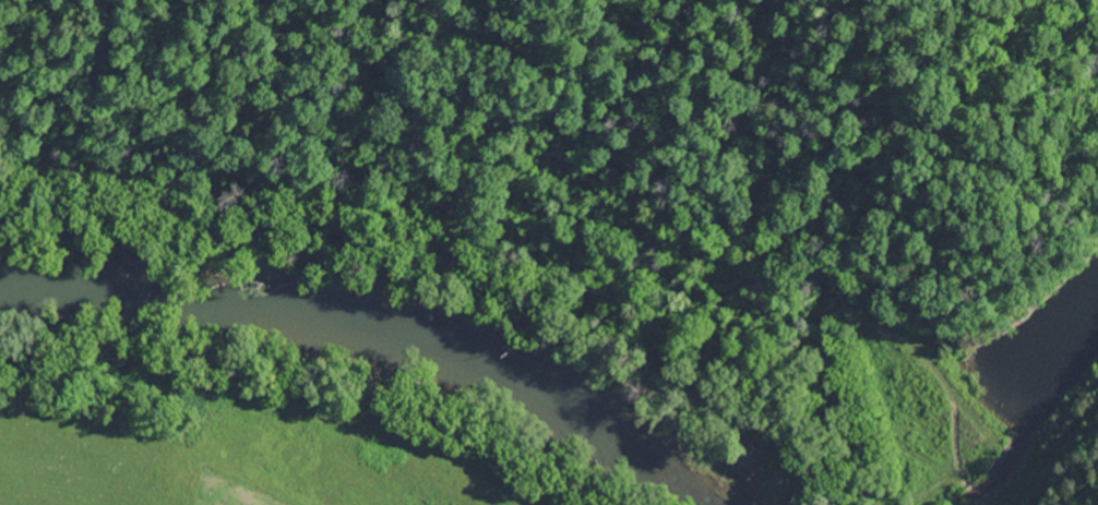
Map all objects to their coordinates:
river: (390, 342)

